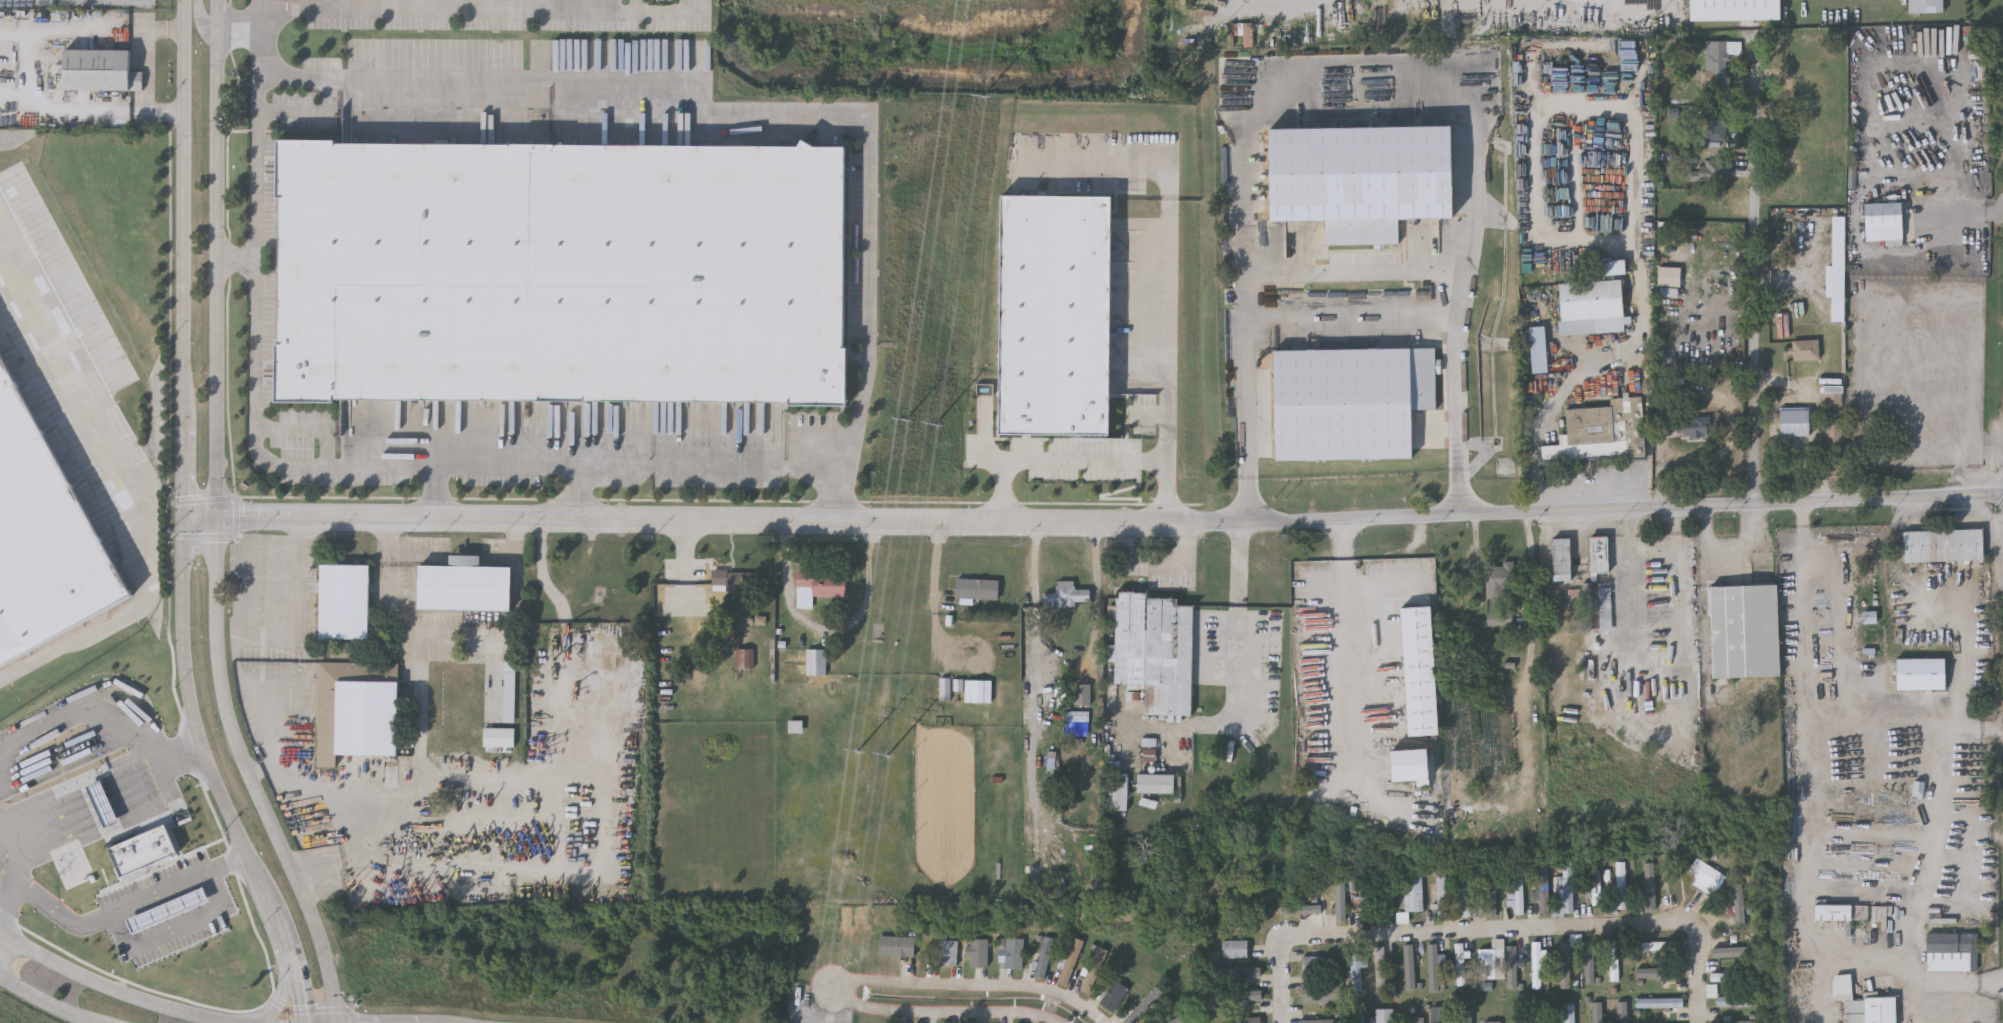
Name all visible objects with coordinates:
power tower: (967, 1)
road: (1277, 4)
building: (1924, 7)
road: (255, 8)
road: (462, 9)
building: (1732, 10)
road: (202, 22)
road: (260, 45)
building: (1719, 63)
building: (100, 70)
road: (151, 72)
road: (1357, 79)
building: (1805, 95)
power tower: (985, 97)
building: (1709, 177)
building: (1359, 178)
building: (1795, 182)
road: (183, 192)
road: (870, 195)
road: (1633, 195)
road: (1957, 212)
building: (1883, 220)
building: (1799, 254)
road: (1168, 260)
road: (239, 261)
road: (1355, 264)
building: (561, 269)
road: (1759, 274)
road: (1918, 293)
building: (1589, 301)
building: (1055, 315)
road: (1352, 321)
building: (1407, 344)
building: (1806, 352)
road: (258, 355)
building: (1349, 401)
power tower: (908, 422)
building: (1793, 422)
building: (1691, 427)
road: (309, 430)
power tower: (937, 430)
building: (1600, 433)
road: (184, 451)
road: (1083, 462)
road: (134, 487)
road: (437, 494)
road: (585, 495)
road: (838, 498)
road: (1584, 513)
traffic signals: (184, 518)
traffic signals: (218, 518)
road: (217, 522)
road: (674, 523)
building: (44, 536)
building: (1943, 544)
road: (687, 547)
road: (515, 559)
road: (402, 560)
building: (1563, 560)
road: (467, 562)
building: (1502, 581)
building: (736, 582)
road: (240, 584)
building: (1599, 586)
building: (466, 587)
building: (819, 588)
building: (975, 588)
building: (1068, 596)
building: (346, 603)
road: (1234, 626)
building: (1745, 631)
road: (1349, 647)
building: (1155, 651)
road: (1840, 653)
building: (744, 660)
building: (814, 663)
building: (1419, 673)
building: (514, 689)
building: (943, 690)
road: (192, 717)
building: (358, 717)
road: (98, 719)
road: (271, 732)
building: (514, 734)
power tower: (860, 753)
power tower: (889, 761)
building: (1157, 779)
building: (1121, 793)
building: (514, 803)
road: (345, 805)
building: (514, 848)
road: (1923, 869)
building: (1707, 876)
building: (359, 882)
building: (1622, 887)
building: (1597, 889)
building: (1545, 891)
building: (1519, 893)
building: (1414, 894)
building: (1567, 895)
building: (1443, 899)
building: (1467, 900)
building: (1391, 901)
road: (11, 903)
building: (1843, 912)
road: (276, 915)
road: (109, 918)
road: (176, 929)
road: (1485, 933)
building: (898, 946)
road: (288, 947)
building: (1661, 948)
building: (1236, 951)
building: (1954, 951)
building: (950, 952)
building: (981, 952)
building: (1017, 953)
building: (1737, 954)
building: (1048, 958)
building: (1074, 961)
building: (1463, 962)
building: (1568, 962)
building: (1615, 962)
building: (1489, 966)
building: (1317, 967)
road: (1837, 967)
building: (1097, 971)
building: (1382, 972)
building: (1358, 975)
road: (1697, 976)
road: (1281, 982)
road: (107, 984)
road: (940, 987)
road: (300, 993)
building: (1117, 995)
building: (1324, 995)
road: (43, 1000)
road: (279, 1002)
building: (1734, 1002)
building: (1661, 1004)
building: (1864, 1004)
building: (1148, 1005)
building: (1623, 1013)
building: (1570, 1014)
road: (946, 1015)
building: (1599, 1015)
building: (1442, 1016)
building: (1548, 1016)
building: (1386, 1017)
building: (1522, 1017)
building: (1178, 1021)
building: (1249, 1021)
building: (1361, 1021)
building: (949, 1022)
building: (1417, 1022)

